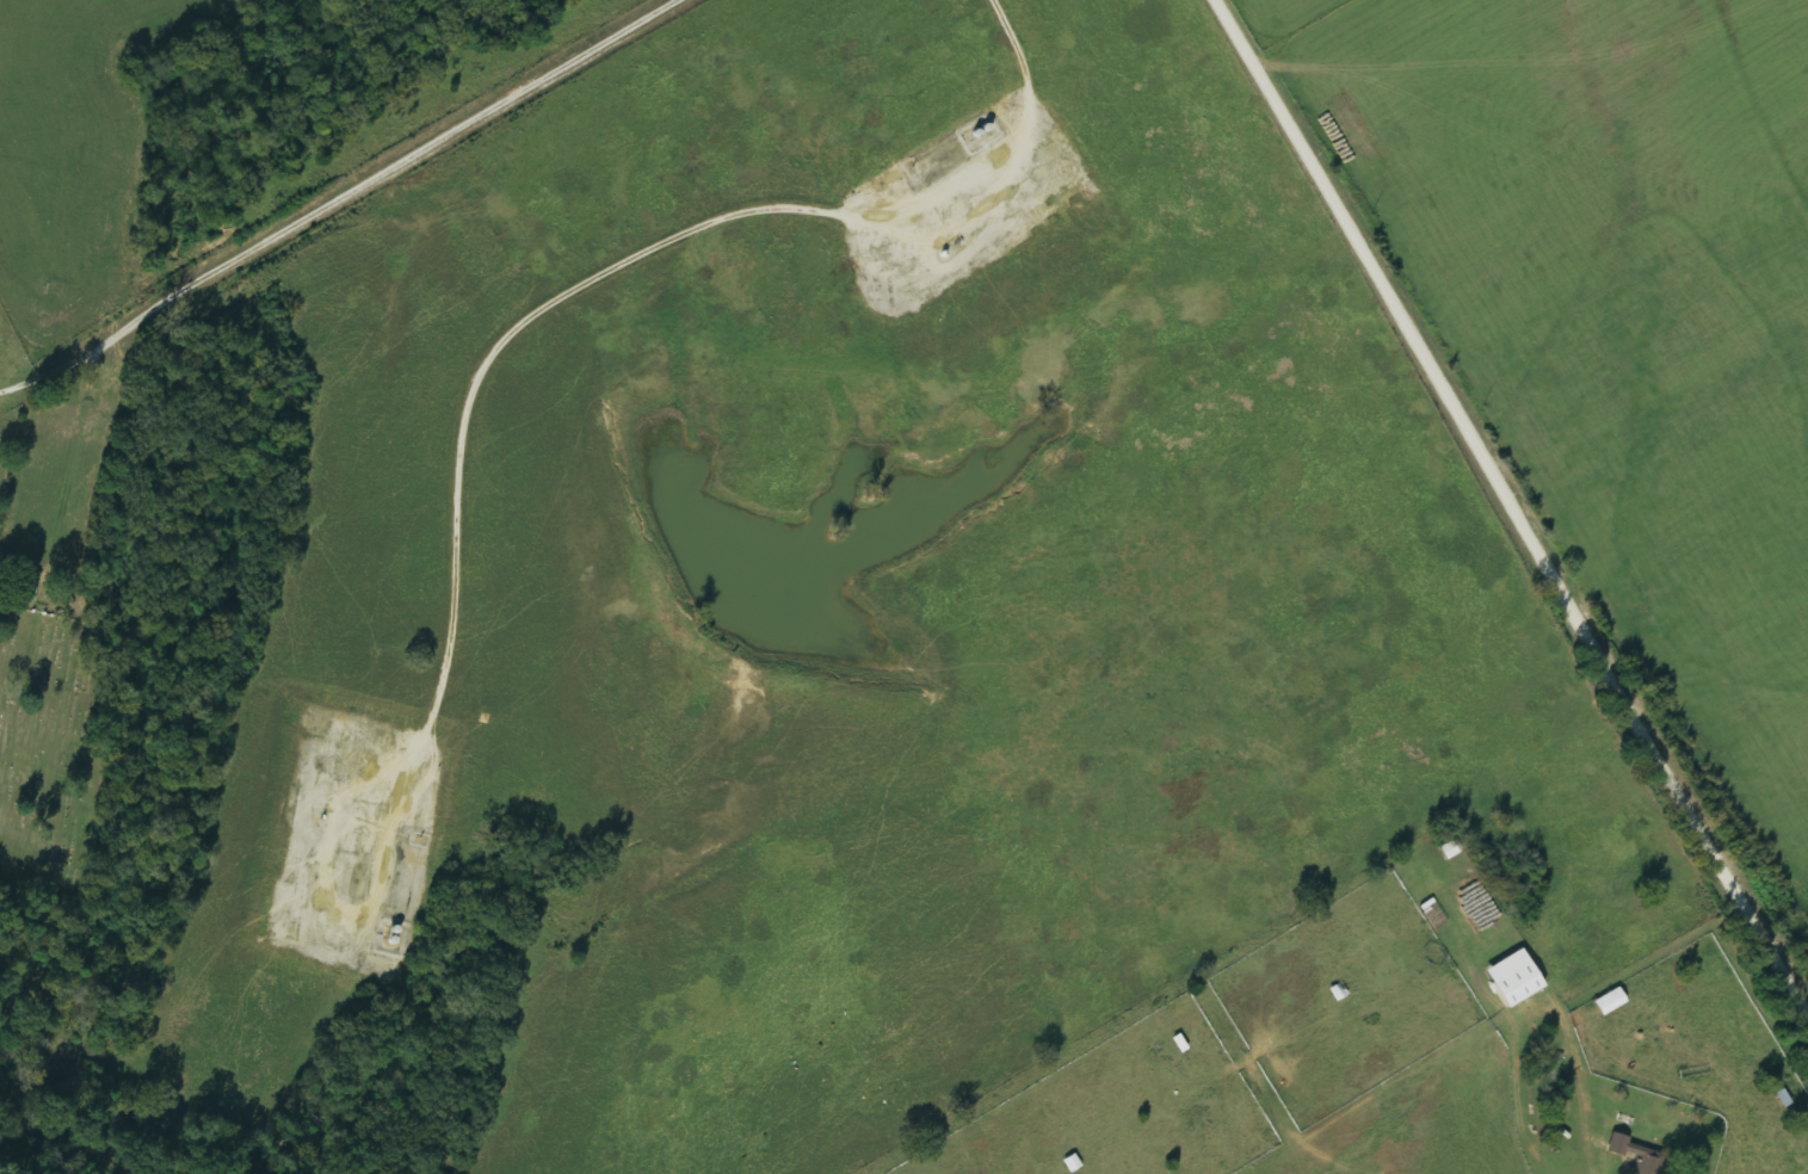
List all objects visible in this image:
road: (280, 239)
road: (1511, 505)
park: (56, 740)
building: (1512, 980)
building: (1609, 1002)
building: (1634, 1155)

